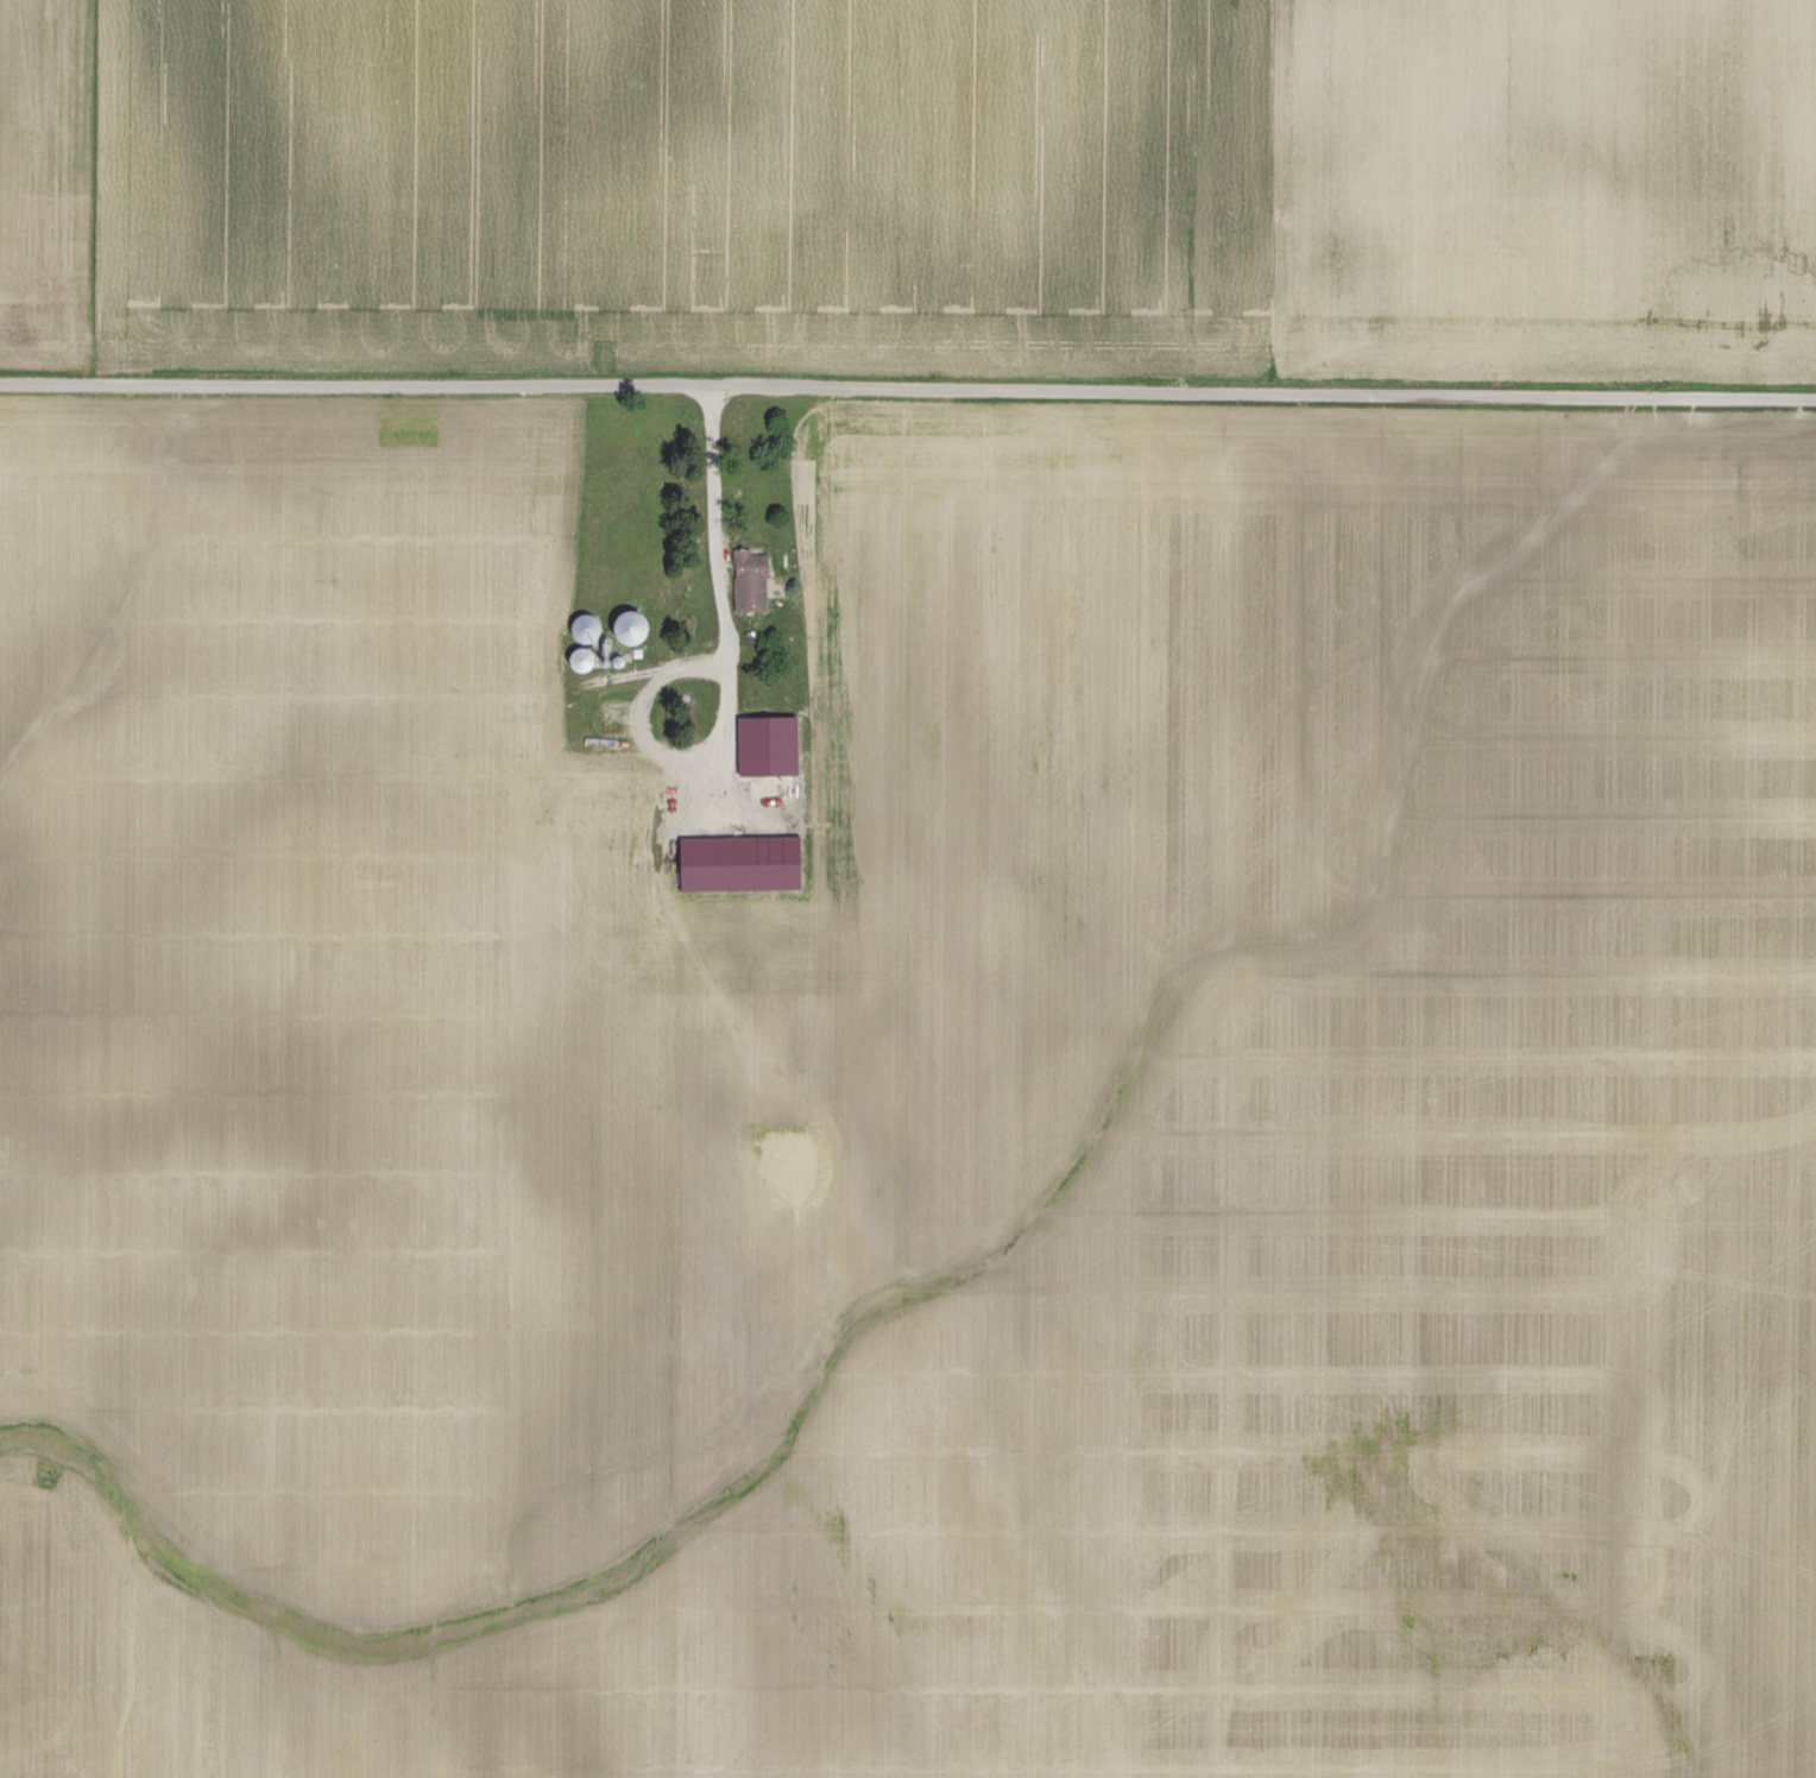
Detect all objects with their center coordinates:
road: (908, 387)
road: (721, 600)

